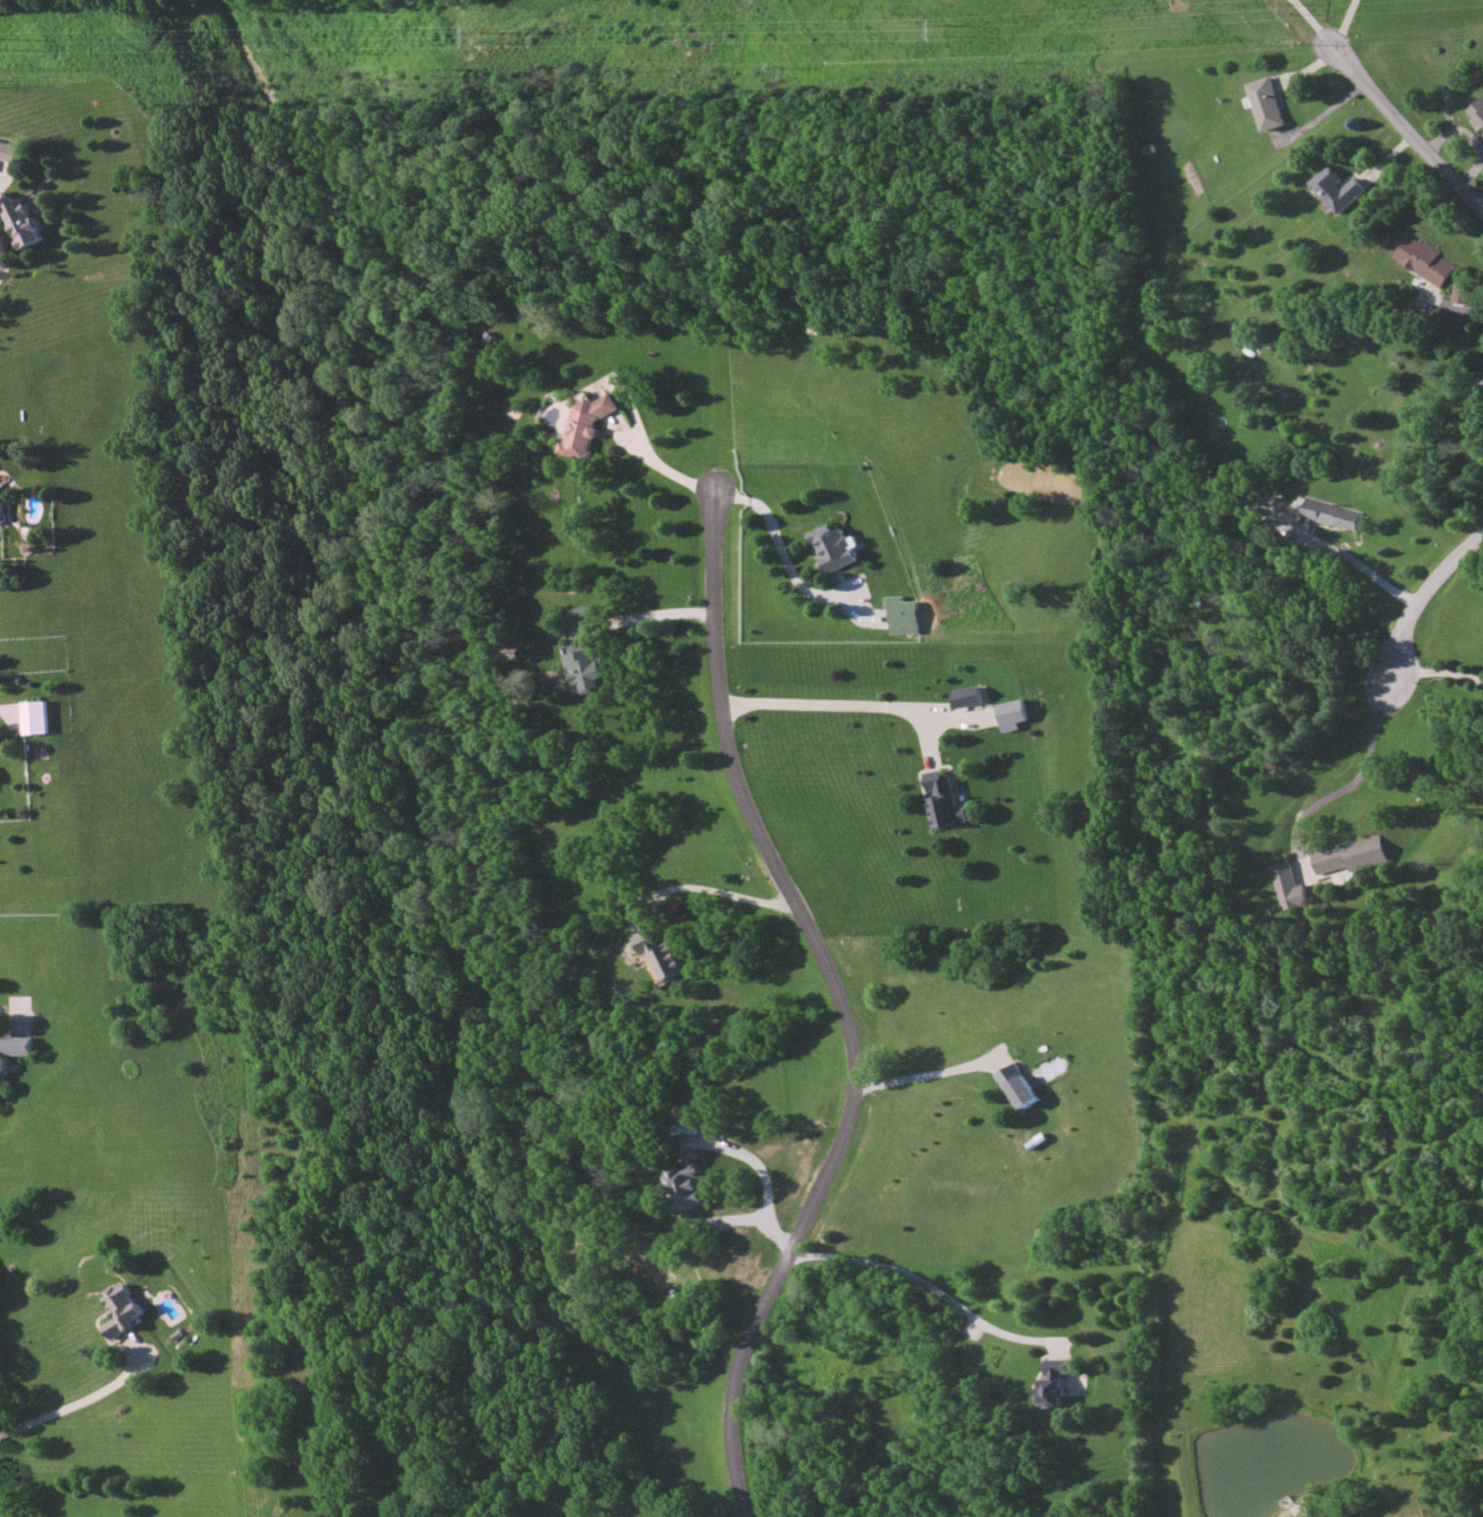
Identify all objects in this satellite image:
power tower: (1284, 10)
road: (1311, 20)
road: (1343, 22)
power tower: (945, 29)
power tower: (482, 36)
building: (1264, 103)
building: (1477, 113)
road: (1406, 124)
building: (10, 151)
building: (1337, 188)
building: (21, 221)
building: (1424, 259)
road: (3, 266)
building: (1459, 293)
building: (588, 425)
road: (654, 457)
building: (2, 502)
building: (1333, 514)
road: (780, 547)
building: (833, 547)
road: (1364, 561)
road: (1422, 603)
road: (643, 611)
building: (902, 614)
building: (580, 615)
building: (585, 669)
road: (1439, 675)
building: (966, 696)
road: (843, 700)
building: (1009, 714)
building: (34, 717)
road: (1354, 779)
building: (944, 800)
road: (752, 807)
building: (1349, 855)
road: (710, 884)
building: (1285, 886)
building: (662, 954)
building: (12, 1053)
road: (920, 1075)
building: (1018, 1085)
road: (762, 1169)
building: (688, 1185)
road: (732, 1217)
road: (931, 1285)
building: (124, 1309)
building: (1053, 1383)
road: (71, 1407)

